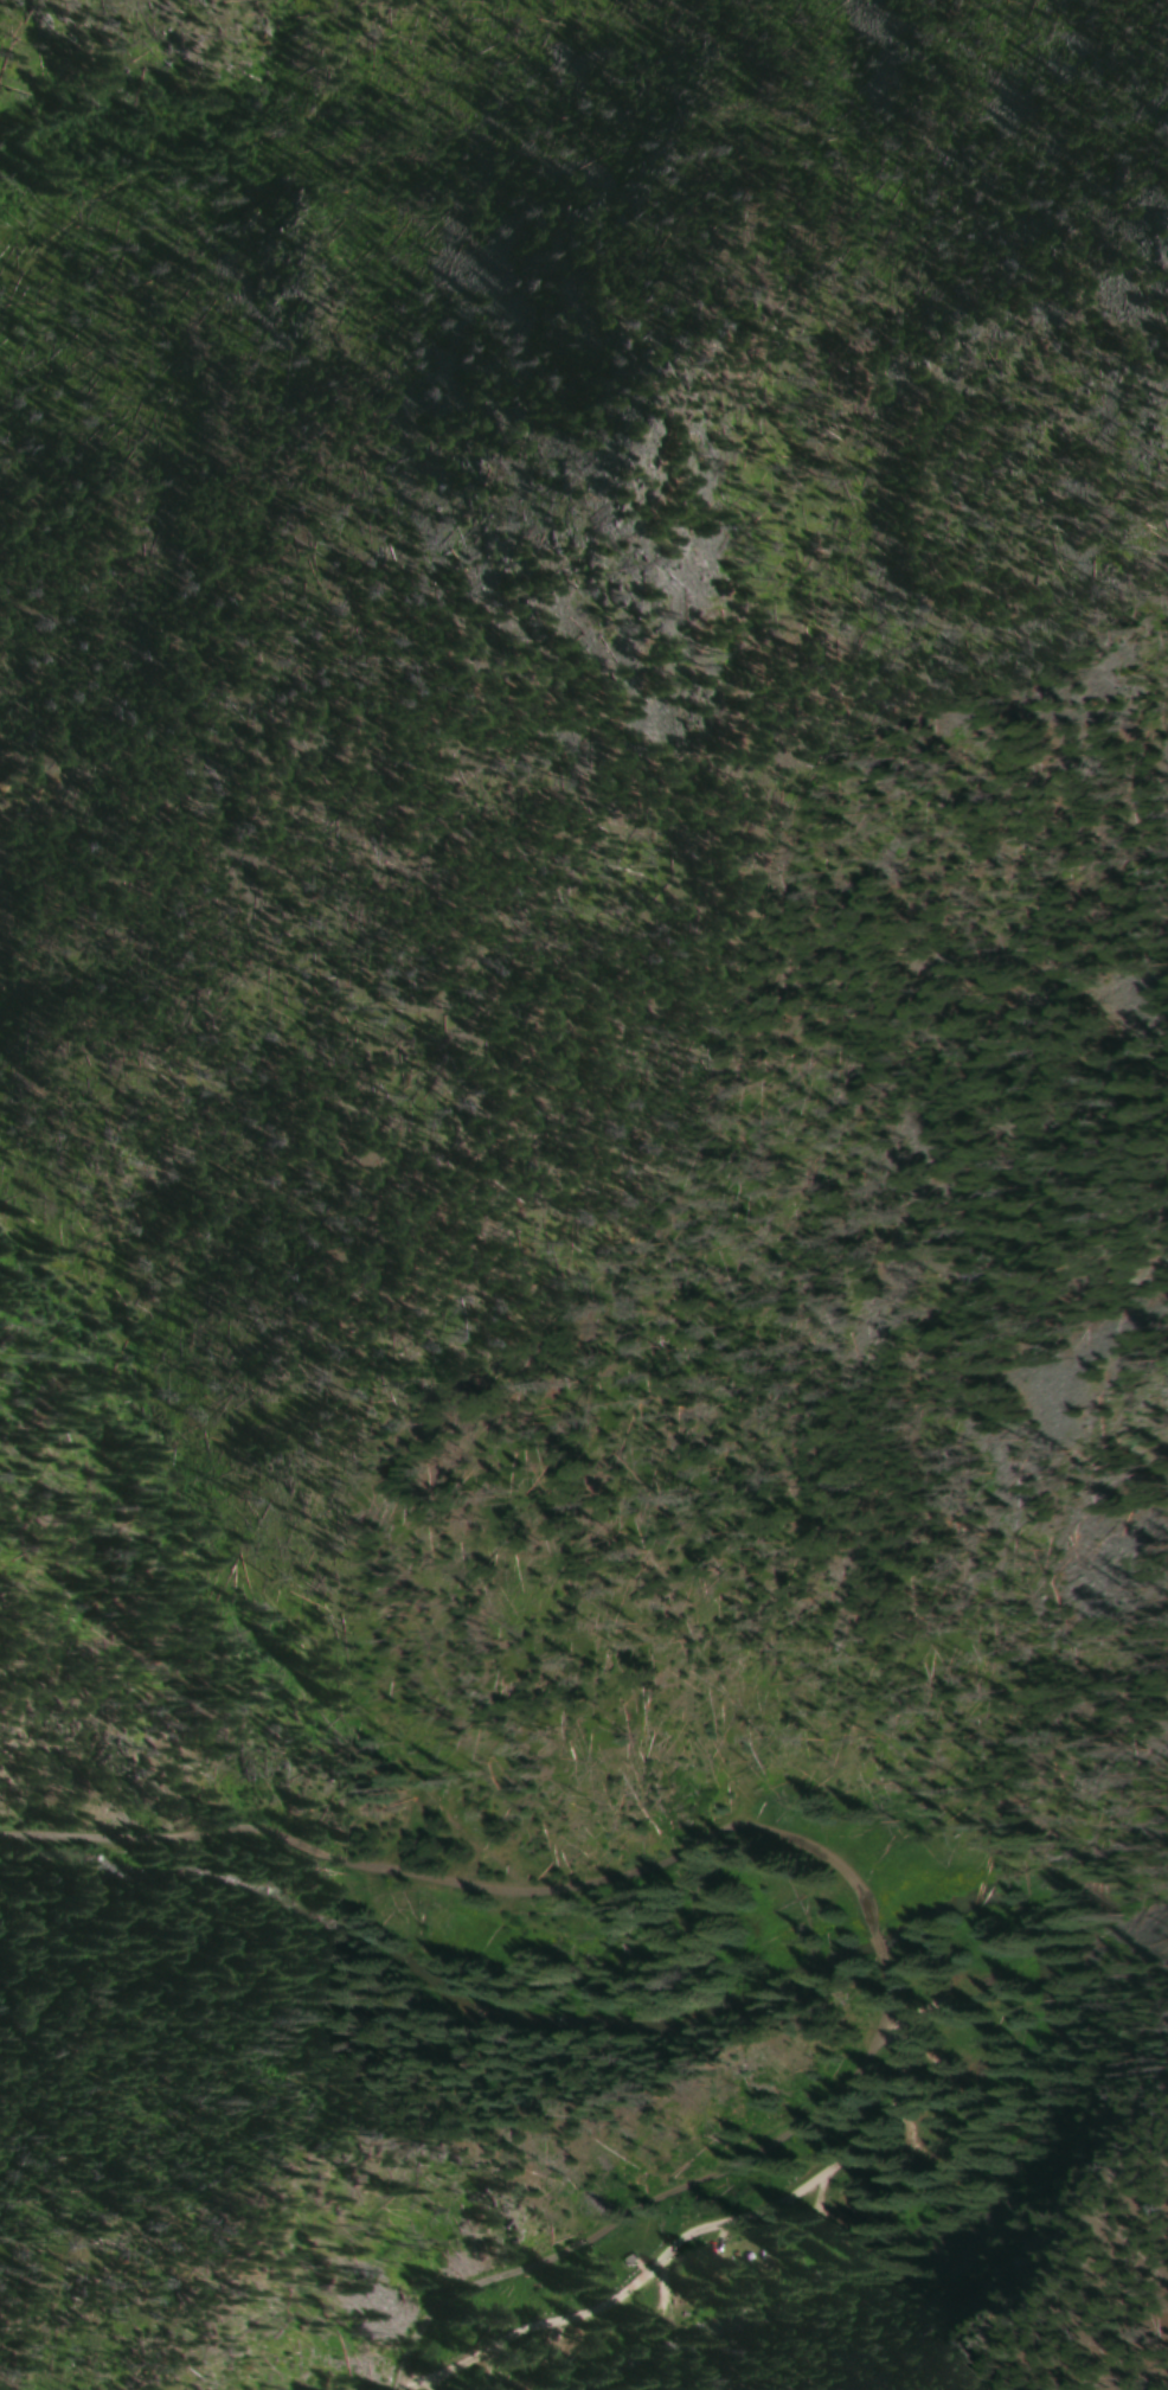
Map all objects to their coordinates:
mineshaft: (2, 780)
road: (456, 1878)
road: (873, 1937)
river: (866, 1947)
road: (663, 2189)
road: (694, 2229)

